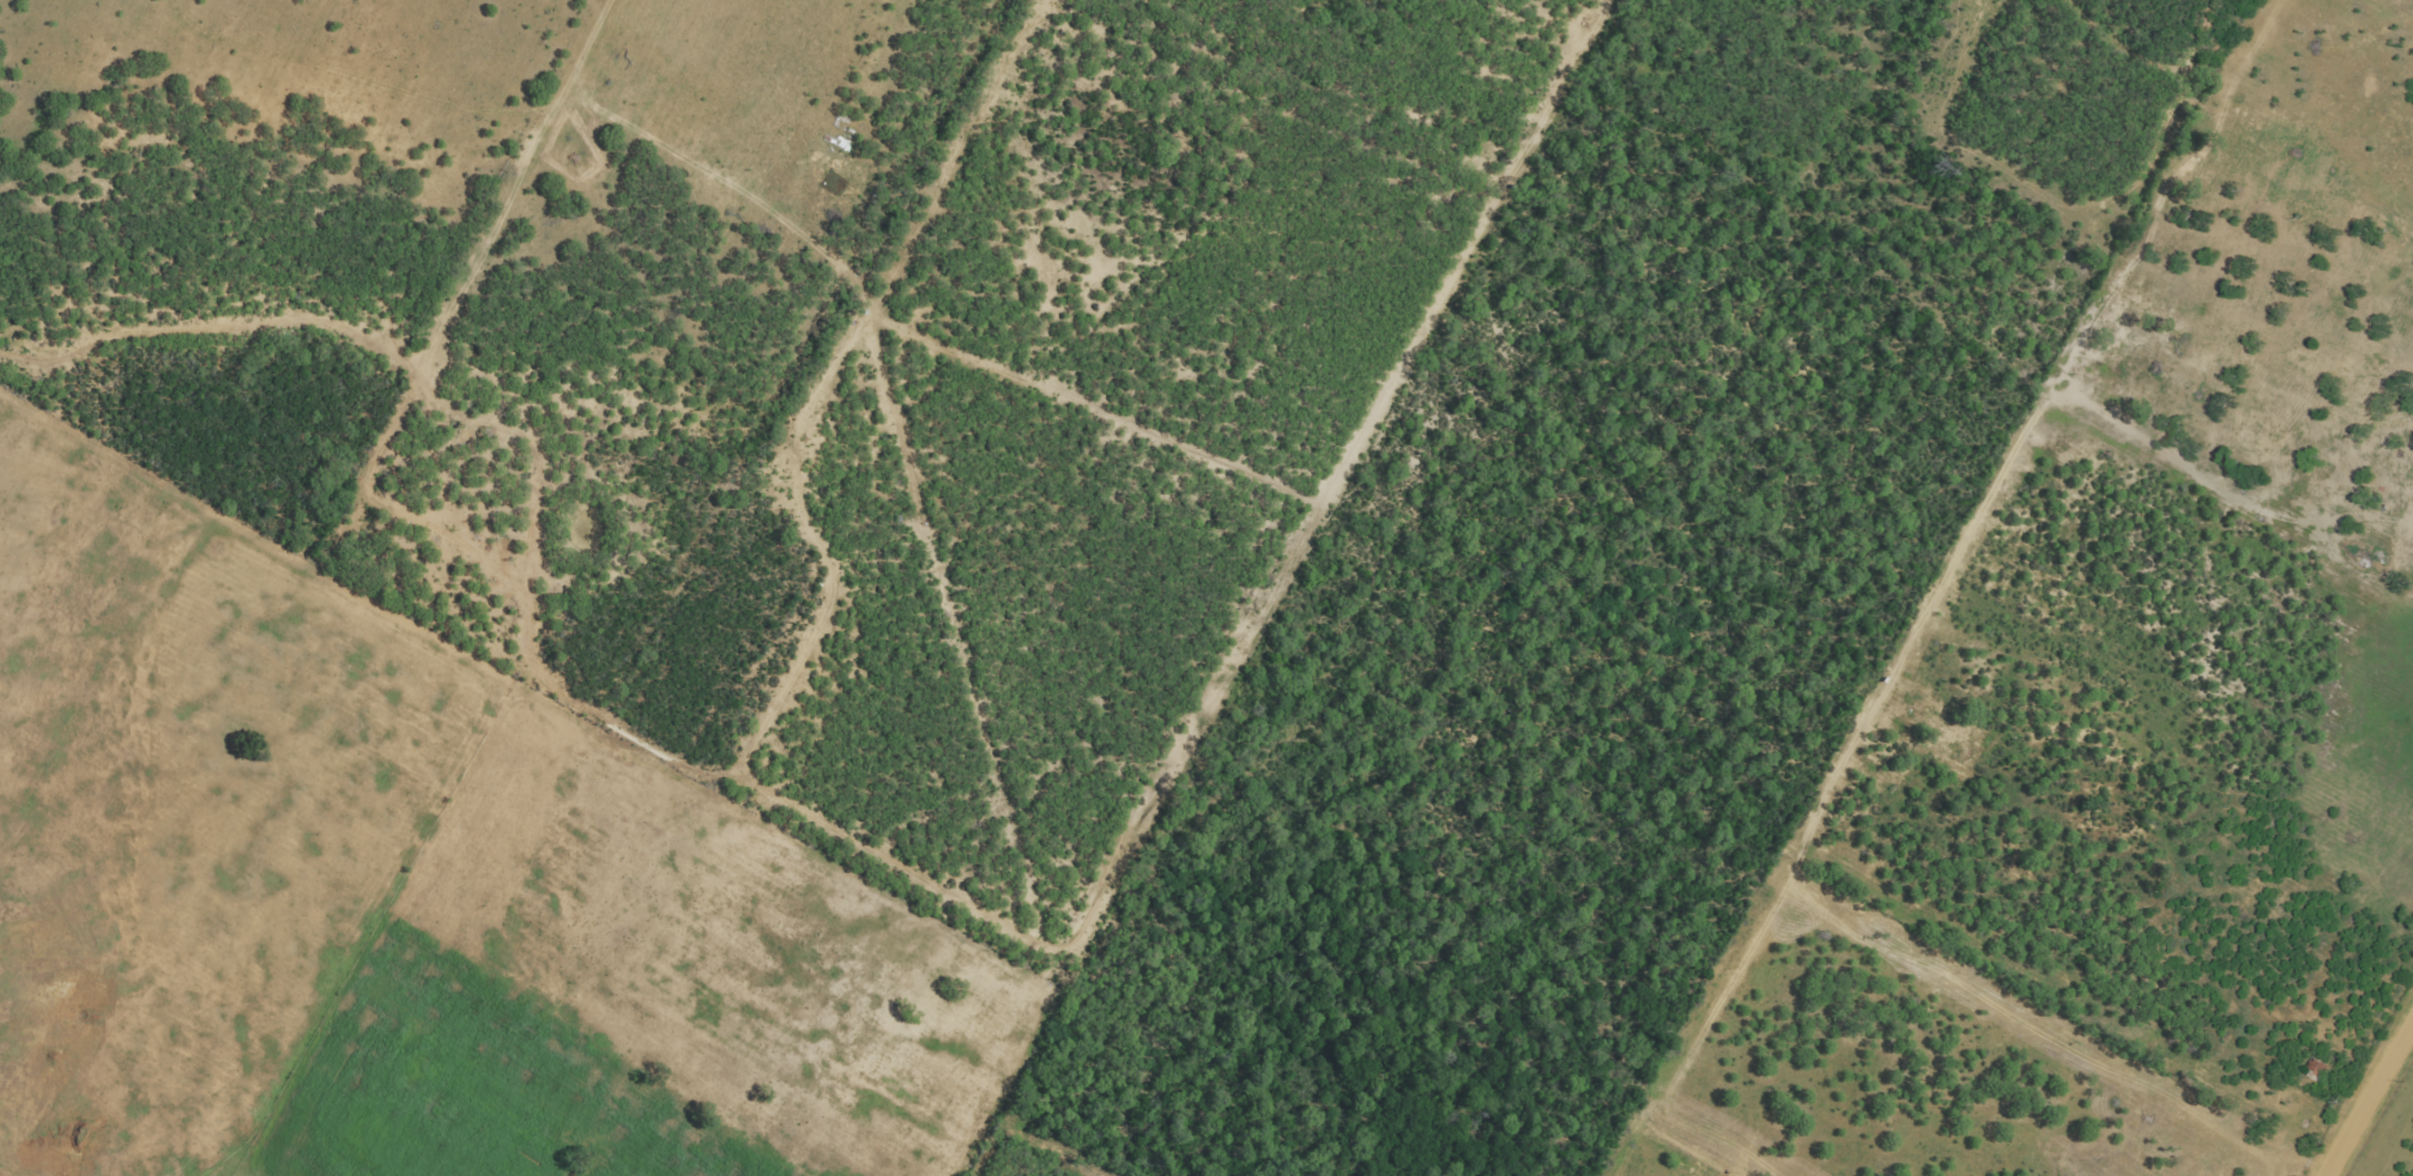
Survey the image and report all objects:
building: (2318, 1066)
road: (2371, 1102)

